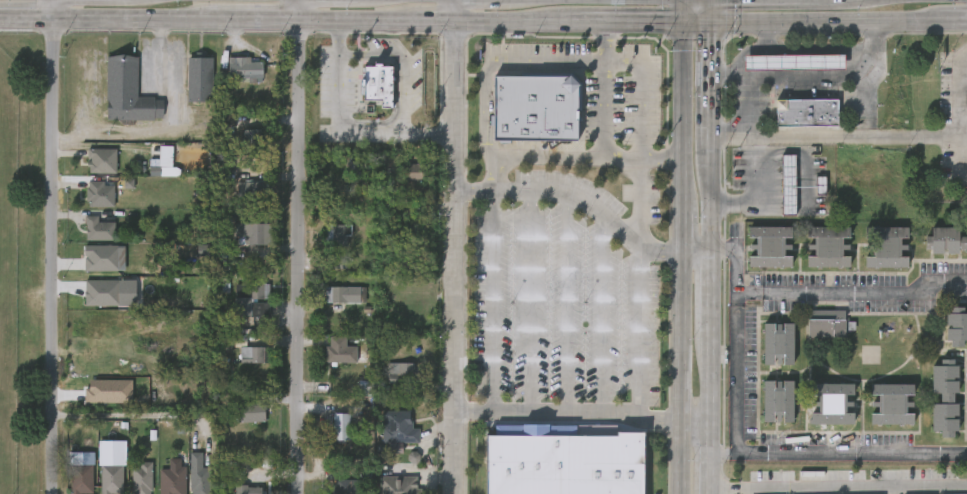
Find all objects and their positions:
road: (58, 10)
road: (303, 11)
road: (461, 11)
road: (678, 11)
road: (711, 11)
road: (952, 20)
road: (29, 21)
road: (141, 21)
road: (824, 21)
road: (263, 22)
road: (359, 22)
road: (438, 22)
road: (520, 22)
road: (628, 23)
traffic signals: (678, 23)
road: (694, 23)
traffic signals: (711, 23)
road: (602, 42)
road: (369, 54)
road: (595, 61)
building: (793, 61)
gas station: (793, 61)
building: (241, 68)
road: (964, 74)
road: (801, 77)
building: (199, 80)
building: (378, 84)
building: (128, 91)
road: (400, 97)
building: (536, 107)
road: (602, 110)
building: (805, 112)
road: (961, 115)
road: (343, 134)
road: (835, 136)
building: (248, 139)
road: (582, 158)
building: (99, 161)
building: (163, 164)
building: (411, 171)
building: (787, 183)
road: (755, 188)
building: (253, 190)
building: (100, 194)
road: (567, 196)
building: (396, 208)
building: (98, 230)
building: (256, 234)
building: (335, 236)
building: (945, 239)
building: (768, 245)
building: (826, 246)
building: (885, 246)
road: (694, 253)
road: (60, 257)
road: (458, 257)
building: (100, 258)
road: (303, 258)
road: (678, 258)
road: (709, 258)
road: (735, 261)
building: (101, 293)
road: (866, 293)
building: (345, 295)
road: (749, 295)
road: (736, 300)
building: (254, 302)
road: (491, 302)
road: (529, 302)
road: (566, 305)
road: (603, 315)
building: (824, 324)
road: (637, 325)
building: (956, 325)
building: (776, 344)
building: (228, 345)
building: (338, 351)
building: (258, 355)
building: (400, 376)
road: (735, 380)
building: (108, 392)
building: (944, 397)
building: (776, 401)
building: (831, 402)
building: (891, 403)
building: (251, 413)
road: (474, 414)
road: (584, 415)
road: (693, 423)
building: (339, 427)
building: (396, 428)
road: (715, 455)
road: (845, 455)
building: (414, 457)
building: (563, 461)
building: (109, 473)
building: (199, 475)
building: (142, 478)
building: (79, 479)
building: (170, 481)
building: (397, 486)
building: (344, 487)
road: (857, 489)
building: (247, 490)
road: (723, 490)
road: (743, 490)

